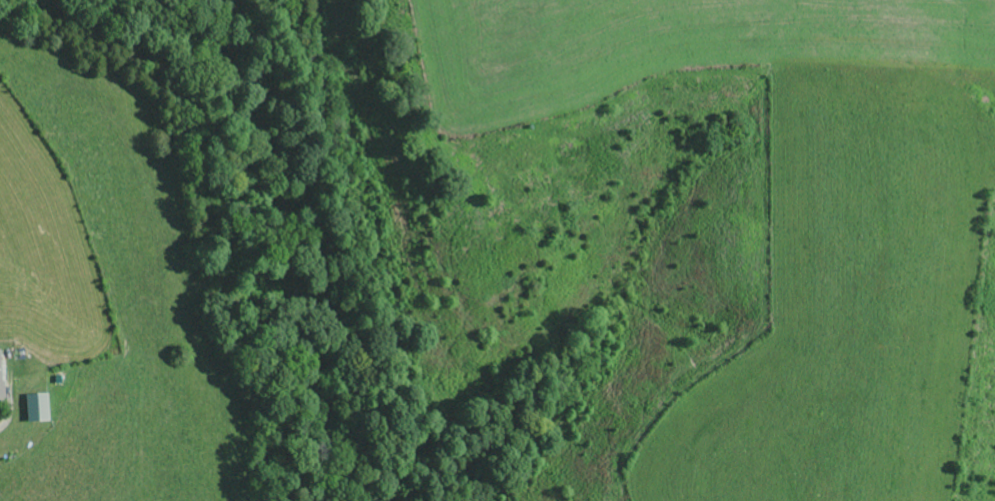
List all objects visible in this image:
building: (34, 410)

